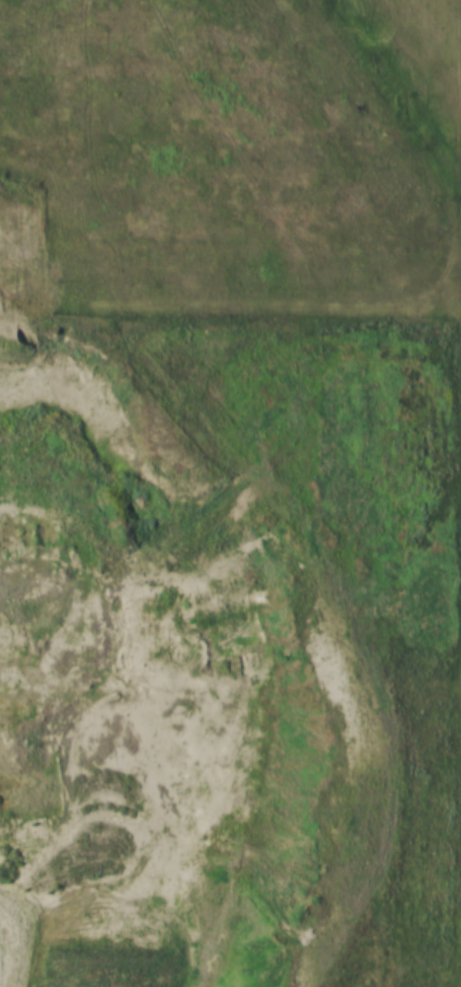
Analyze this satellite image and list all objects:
building: (456, 731)

